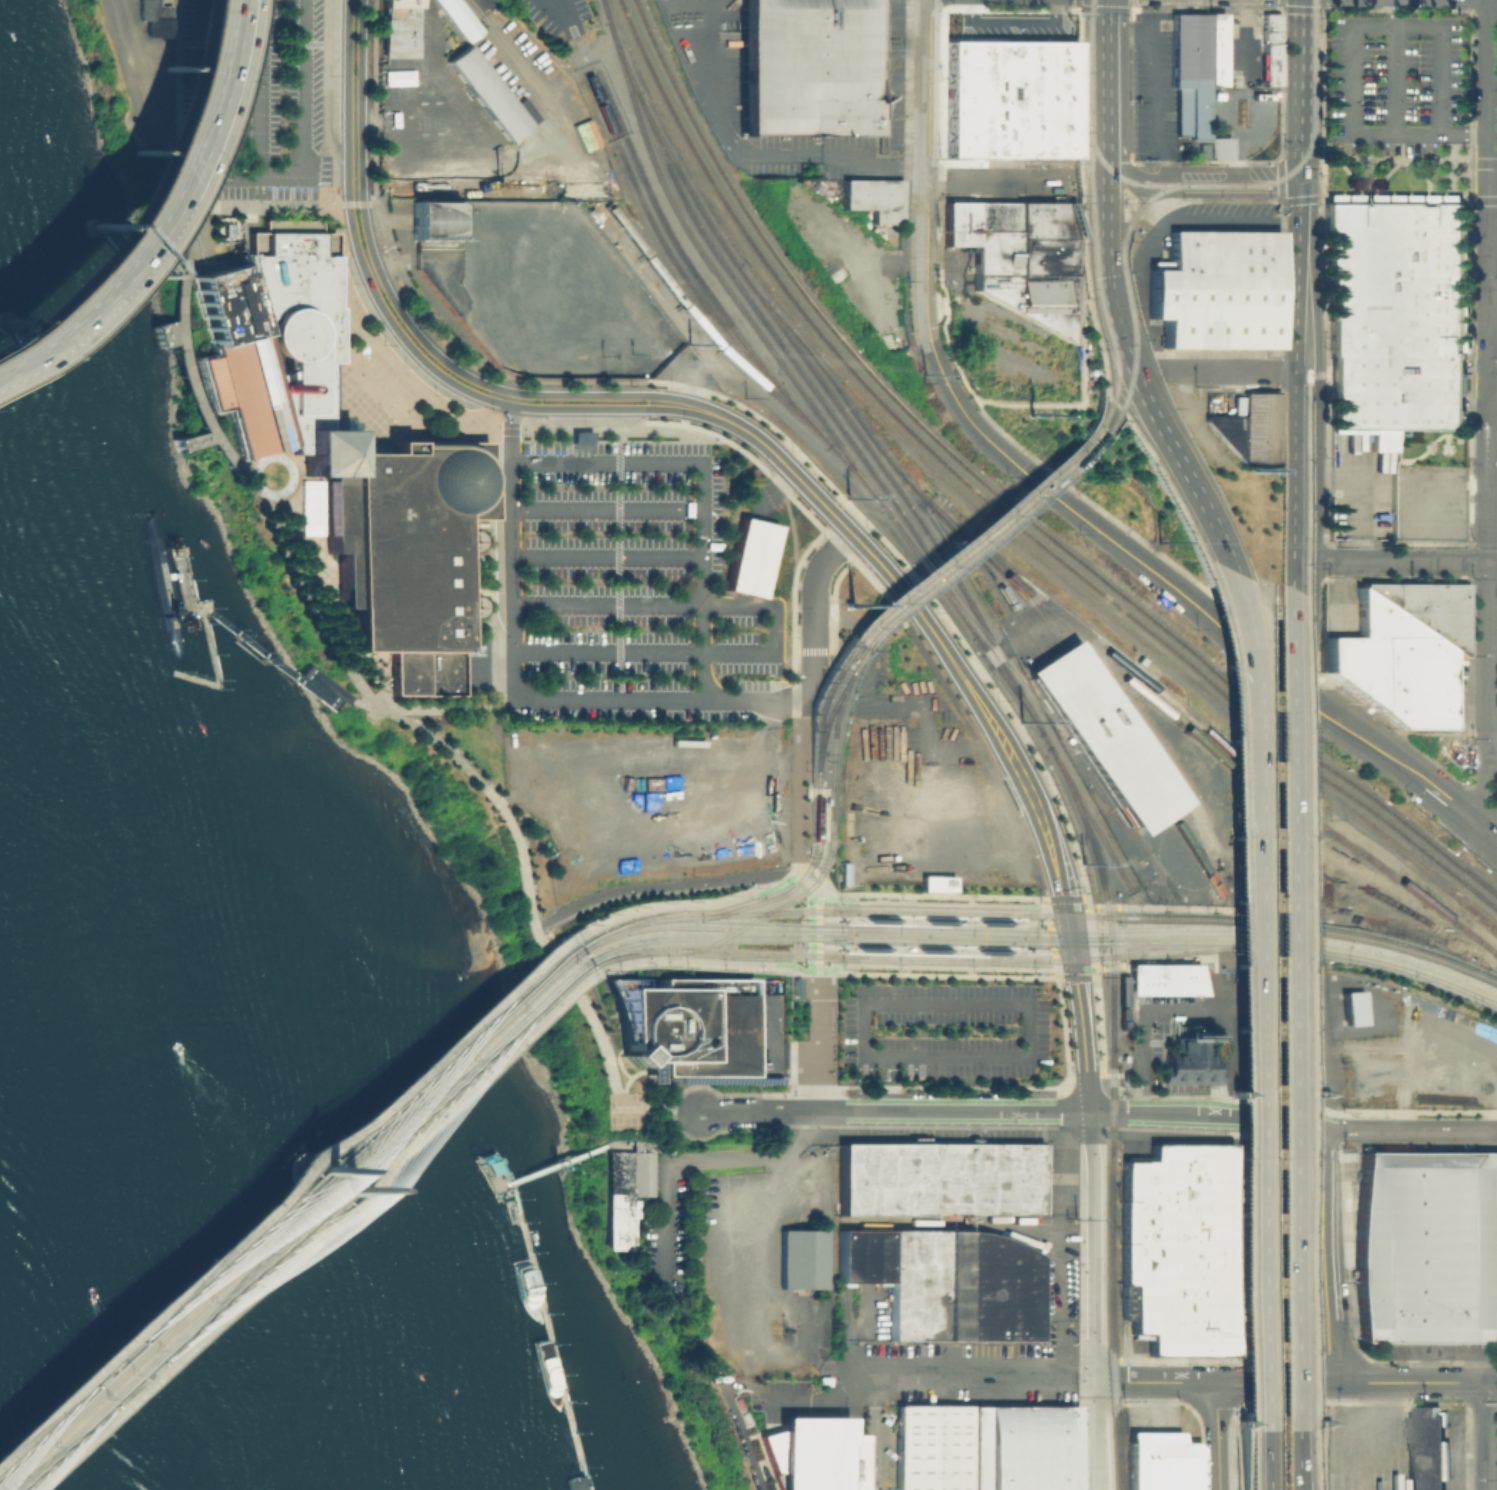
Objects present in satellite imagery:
road: (1077, 4)
road: (1321, 5)
road: (478, 8)
road: (1091, 8)
road: (1285, 8)
road: (1122, 9)
road: (1310, 9)
road: (558, 11)
building: (158, 17)
building: (459, 18)
parking lot: (550, 20)
building: (1269, 27)
building: (400, 28)
road: (277, 43)
parking lot: (708, 48)
building: (1212, 48)
road: (1350, 50)
railway: (1322, 52)
road: (1078, 62)
building: (1269, 64)
road: (1393, 66)
parking lot: (333, 67)
building: (1188, 67)
building: (810, 68)
road: (1104, 76)
road: (259, 87)
railway: (1088, 87)
road: (927, 90)
road: (1300, 90)
parking lot: (1392, 92)
road: (348, 93)
building: (493, 95)
parking lot: (255, 96)
building: (1011, 99)
road: (183, 101)
road: (1149, 104)
road: (1320, 104)
road: (305, 111)
road: (173, 114)
road: (207, 114)
road: (173, 117)
railway: (1076, 118)
road: (144, 130)
road: (1080, 139)
railway: (1310, 143)
building: (1216, 148)
road: (770, 155)
road: (528, 156)
road: (1396, 159)
road: (1481, 160)
road: (1103, 176)
railway: (1118, 176)
road: (1195, 180)
road: (998, 181)
traffic signals: (1299, 181)
road: (1493, 182)
road: (308, 190)
road: (933, 190)
railway: (1148, 196)
building: (874, 198)
road: (1308, 199)
road: (270, 205)
road: (132, 210)
road: (334, 218)
building: (433, 219)
road: (366, 230)
railway: (660, 240)
road: (861, 250)
building: (1020, 255)
railway: (691, 269)
road: (1313, 274)
road: (1296, 275)
road: (926, 278)
road: (1084, 278)
road: (959, 284)
road: (1107, 286)
power substation: (538, 287)
road: (65, 288)
building: (1216, 291)
road: (67, 292)
railway: (1102, 308)
building: (1396, 312)
parking lot: (374, 319)
road: (1079, 321)
power tower: (616, 323)
road: (391, 325)
road: (158, 332)
road: (1493, 333)
railway: (1132, 337)
road: (523, 340)
traffic signals: (1121, 343)
railway: (737, 364)
road: (1489, 366)
road: (184, 368)
railway: (797, 368)
road: (1227, 371)
road: (1313, 372)
road: (1493, 373)
road: (689, 375)
railway: (818, 379)
road: (1294, 382)
road: (1307, 384)
road: (587, 393)
road: (511, 399)
road: (1051, 402)
road: (1113, 405)
road: (586, 408)
parking lot: (589, 418)
building: (1253, 428)
road: (506, 429)
building: (579, 435)
road: (435, 441)
road: (177, 444)
road: (201, 445)
road: (767, 448)
building: (341, 452)
railway: (889, 460)
road: (1035, 460)
road: (284, 464)
road: (1181, 468)
park: (1095, 472)
road: (771, 474)
building: (1428, 483)
road: (704, 484)
road: (1164, 485)
road: (1293, 490)
road: (1305, 495)
railway: (1008, 498)
railway: (998, 506)
road: (606, 510)
building: (1405, 520)
building: (1447, 520)
road: (790, 525)
railway: (967, 535)
road: (1318, 538)
railway: (975, 541)
building: (463, 543)
parking lot: (494, 547)
road: (606, 556)
building: (749, 556)
road: (1407, 561)
road: (1467, 561)
road: (616, 563)
road: (1322, 569)
road: (488, 574)
pier: (176, 575)
park: (274, 576)
road: (1327, 577)
pier: (189, 585)
building: (167, 587)
road: (815, 587)
road: (1172, 587)
parking lot: (630, 588)
road: (1336, 592)
railway: (1025, 597)
road: (334, 599)
road: (606, 604)
building: (464, 605)
building: (1426, 606)
road: (1243, 618)
road: (773, 628)
road: (249, 642)
road: (1492, 642)
road: (1011, 644)
building: (1365, 644)
road: (803, 651)
road: (606, 652)
railway: (852, 658)
building: (1412, 663)
road: (216, 667)
road: (1313, 669)
road: (484, 673)
road: (1323, 674)
road: (308, 678)
road: (810, 684)
railway: (1017, 694)
road: (512, 699)
railway: (1158, 705)
building: (1415, 707)
road: (446, 708)
railway: (816, 708)
road: (797, 719)
railway: (822, 719)
road: (988, 719)
railway: (829, 727)
railway: (1115, 729)
railway: (1212, 732)
road: (1443, 732)
road: (1492, 732)
railway: (1096, 736)
building: (1104, 736)
road: (1468, 750)
road: (1492, 753)
road: (1259, 754)
road: (453, 764)
road: (1487, 781)
road: (1466, 785)
road: (478, 790)
road: (814, 792)
road: (799, 793)
railway: (822, 797)
road: (1482, 799)
road: (1455, 806)
railway: (829, 809)
railway: (815, 810)
railway: (1089, 817)
road: (822, 831)
railway: (822, 834)
road: (1491, 834)
railway: (1196, 852)
road: (1152, 856)
road: (816, 873)
building: (934, 883)
road: (660, 886)
road: (927, 893)
railway: (778, 894)
road: (1163, 894)
road: (1043, 897)
road: (1083, 897)
road: (1063, 898)
road: (1042, 899)
road: (937, 902)
road: (683, 904)
traffic signals: (1061, 905)
road: (1088, 905)
road: (1105, 905)
road: (1087, 906)
road: (1175, 907)
railway: (772, 908)
street lamp: (1139, 909)
road: (1045, 910)
street lamp: (1186, 911)
railway: (1106, 915)
road: (813, 917)
railway: (885, 919)
road: (930, 920)
railway: (641, 922)
road: (1048, 923)
road: (1089, 935)
road: (1051, 936)
traffic signals: (1067, 936)
railway: (633, 947)
road: (933, 948)
railway: (986, 949)
road: (1053, 950)
railway: (1093, 956)
street lamp: (1184, 956)
street lamp: (1139, 959)
road: (1192, 959)
road: (704, 961)
road: (1055, 962)
street lamp: (1353, 962)
road: (1094, 965)
road: (1111, 965)
road: (959, 966)
traffic signals: (1072, 967)
road: (1094, 967)
road: (830, 969)
road: (934, 974)
road: (1056, 974)
road: (1092, 975)
road: (1058, 976)
road: (1075, 976)
street lamp: (1413, 978)
building: (1169, 982)
building: (1183, 982)
building: (1198, 983)
building: (1137, 987)
road: (1245, 991)
road: (1262, 995)
building: (1356, 1007)
road: (1297, 1008)
road: (1310, 1010)
road: (1139, 1016)
parking lot: (1274, 1016)
road: (1080, 1023)
road: (1099, 1024)
building: (686, 1028)
parking lot: (1033, 1029)
railway: (1112, 1035)
road: (813, 1041)
road: (766, 1049)
road: (1028, 1056)
road: (617, 1059)
building: (1191, 1061)
road: (1084, 1075)
road: (1068, 1076)
road: (624, 1081)
road: (880, 1083)
road: (890, 1083)
road: (711, 1089)
road: (1061, 1089)
road: (1229, 1090)
road: (1270, 1092)
road: (1303, 1092)
road: (1153, 1095)
road: (948, 1100)
road: (1089, 1100)
road: (1229, 1103)
road: (654, 1104)
road: (826, 1105)
road: (1064, 1109)
road: (752, 1110)
road: (1413, 1110)
road: (614, 1111)
road: (949, 1111)
road: (827, 1114)
road: (1211, 1114)
road: (951, 1118)
road: (655, 1119)
road: (1091, 1119)
road: (1213, 1122)
road: (1059, 1125)
road: (1414, 1129)
road: (1317, 1132)
road: (656, 1133)
road: (1265, 1134)
road: (618, 1143)
road: (640, 1145)
road: (665, 1149)
building: (492, 1156)
road: (761, 1156)
building: (497, 1166)
building: (913, 1178)
building: (1014, 1179)
building: (622, 1189)
road: (1092, 1196)
road: (285, 1197)
road: (662, 1210)
railway: (290, 1216)
building: (1023, 1218)
railway: (299, 1223)
road: (747, 1227)
parking lot: (667, 1228)
road: (316, 1229)
building: (1429, 1246)
building: (1183, 1248)
river: (116, 1253)
road: (1332, 1255)
building: (803, 1259)
parking lot: (760, 1266)
pier: (534, 1273)
building: (944, 1281)
road: (1357, 1318)
road: (1093, 1332)
pier: (553, 1348)
road: (1366, 1355)
road: (1360, 1376)
road: (975, 1380)
road: (1212, 1381)
road: (1415, 1382)
road: (1496, 1397)
road: (815, 1398)
road: (1356, 1399)
road: (1481, 1400)
road: (1214, 1401)
road: (1183, 1402)
road: (1354, 1402)
road: (1247, 1403)
road: (1465, 1403)
road: (1197, 1414)
road: (732, 1415)
road: (1325, 1415)
road: (1320, 1418)
road: (1242, 1421)
road: (1247, 1425)
road: (873, 1433)
road: (1093, 1435)
road: (1221, 1435)
road: (1484, 1436)
road: (1333, 1446)
building: (930, 1447)
building: (1021, 1447)
building: (1429, 1450)
building: (820, 1454)
road: (1254, 1459)
road: (1269, 1459)
road: (1300, 1459)
road: (1314, 1459)
road: (1320, 1459)
road: (1326, 1459)
road: (1246, 1460)
building: (1160, 1462)
road: (1243, 1462)

